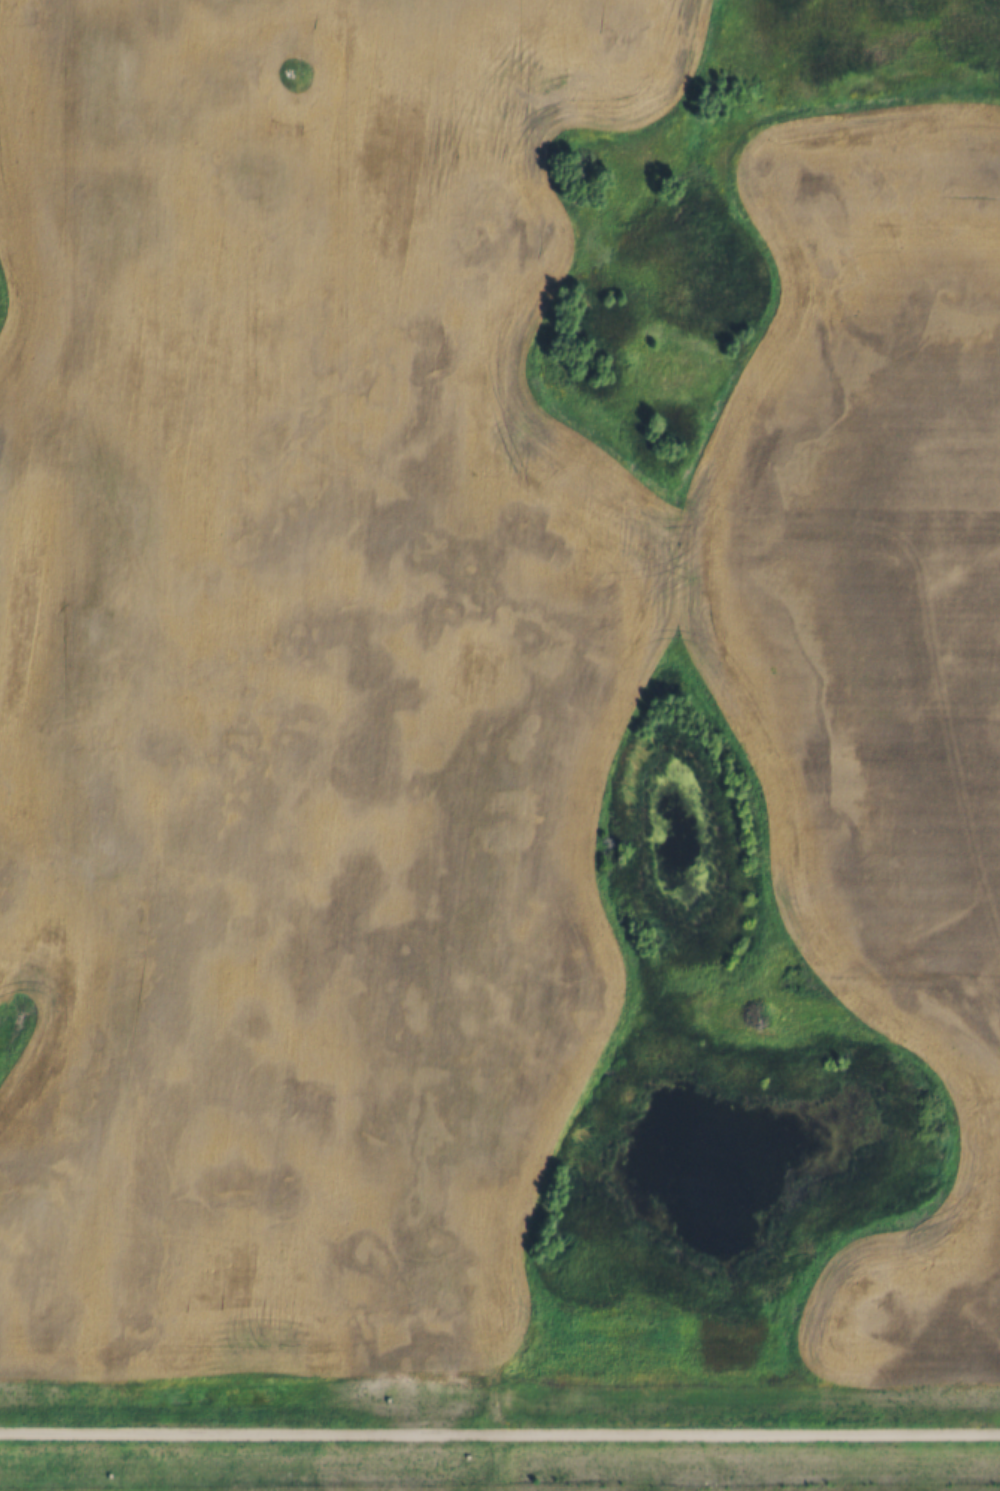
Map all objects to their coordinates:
road: (499, 1430)

